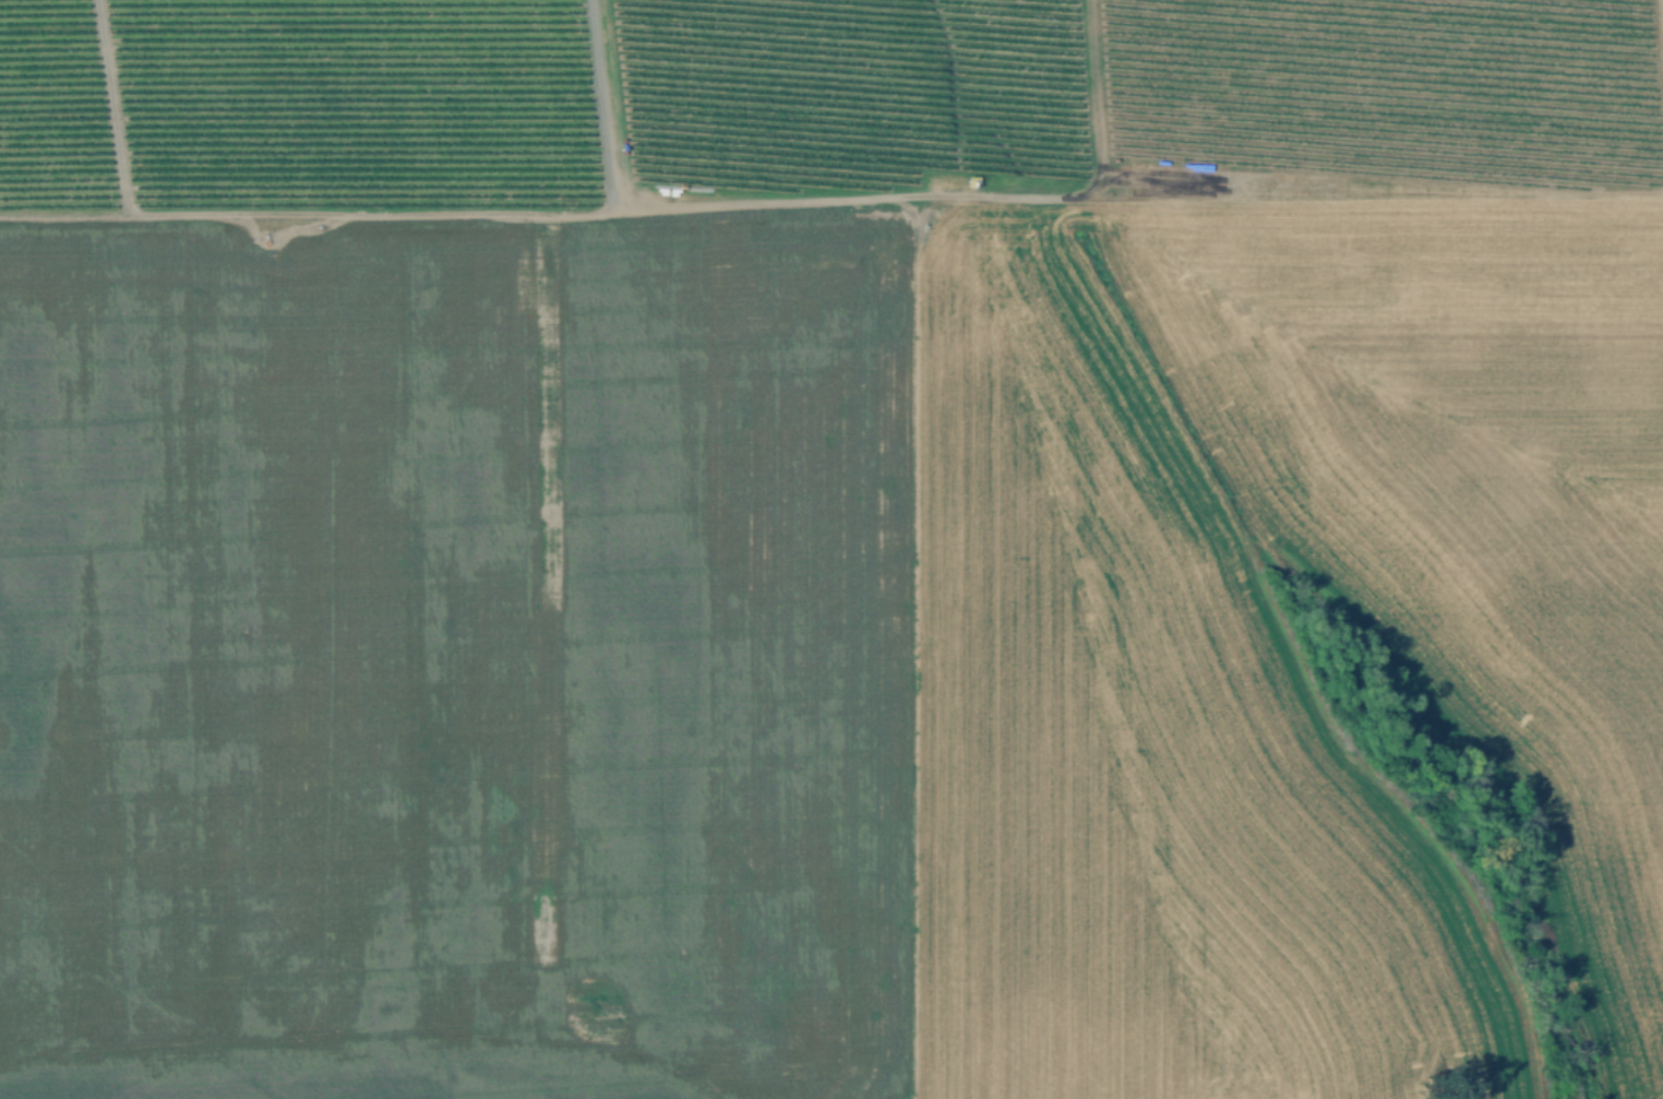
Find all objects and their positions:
road: (112, 108)
road: (1038, 196)
road: (313, 212)
crop: (831, 549)
road: (907, 633)
road: (409, 1030)

